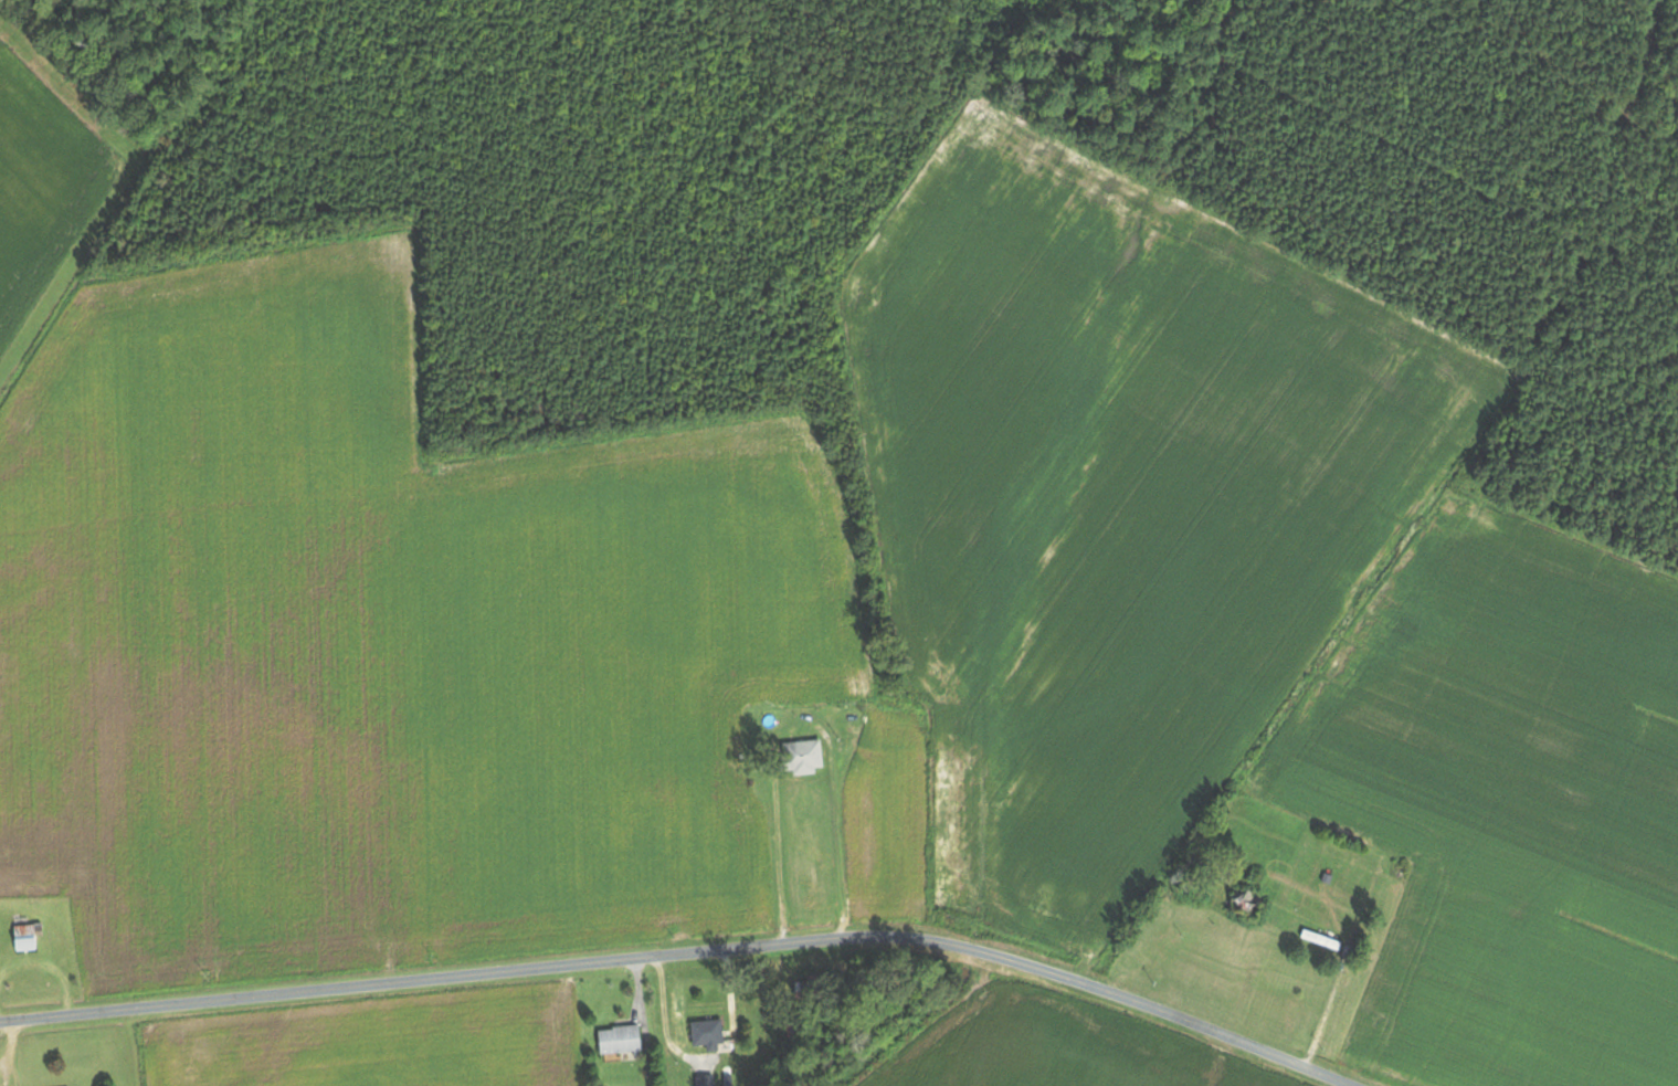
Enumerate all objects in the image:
building: (805, 757)
building: (1236, 903)
building: (28, 937)
building: (1317, 940)
road: (678, 959)
building: (816, 985)
building: (710, 1033)
building: (623, 1038)

